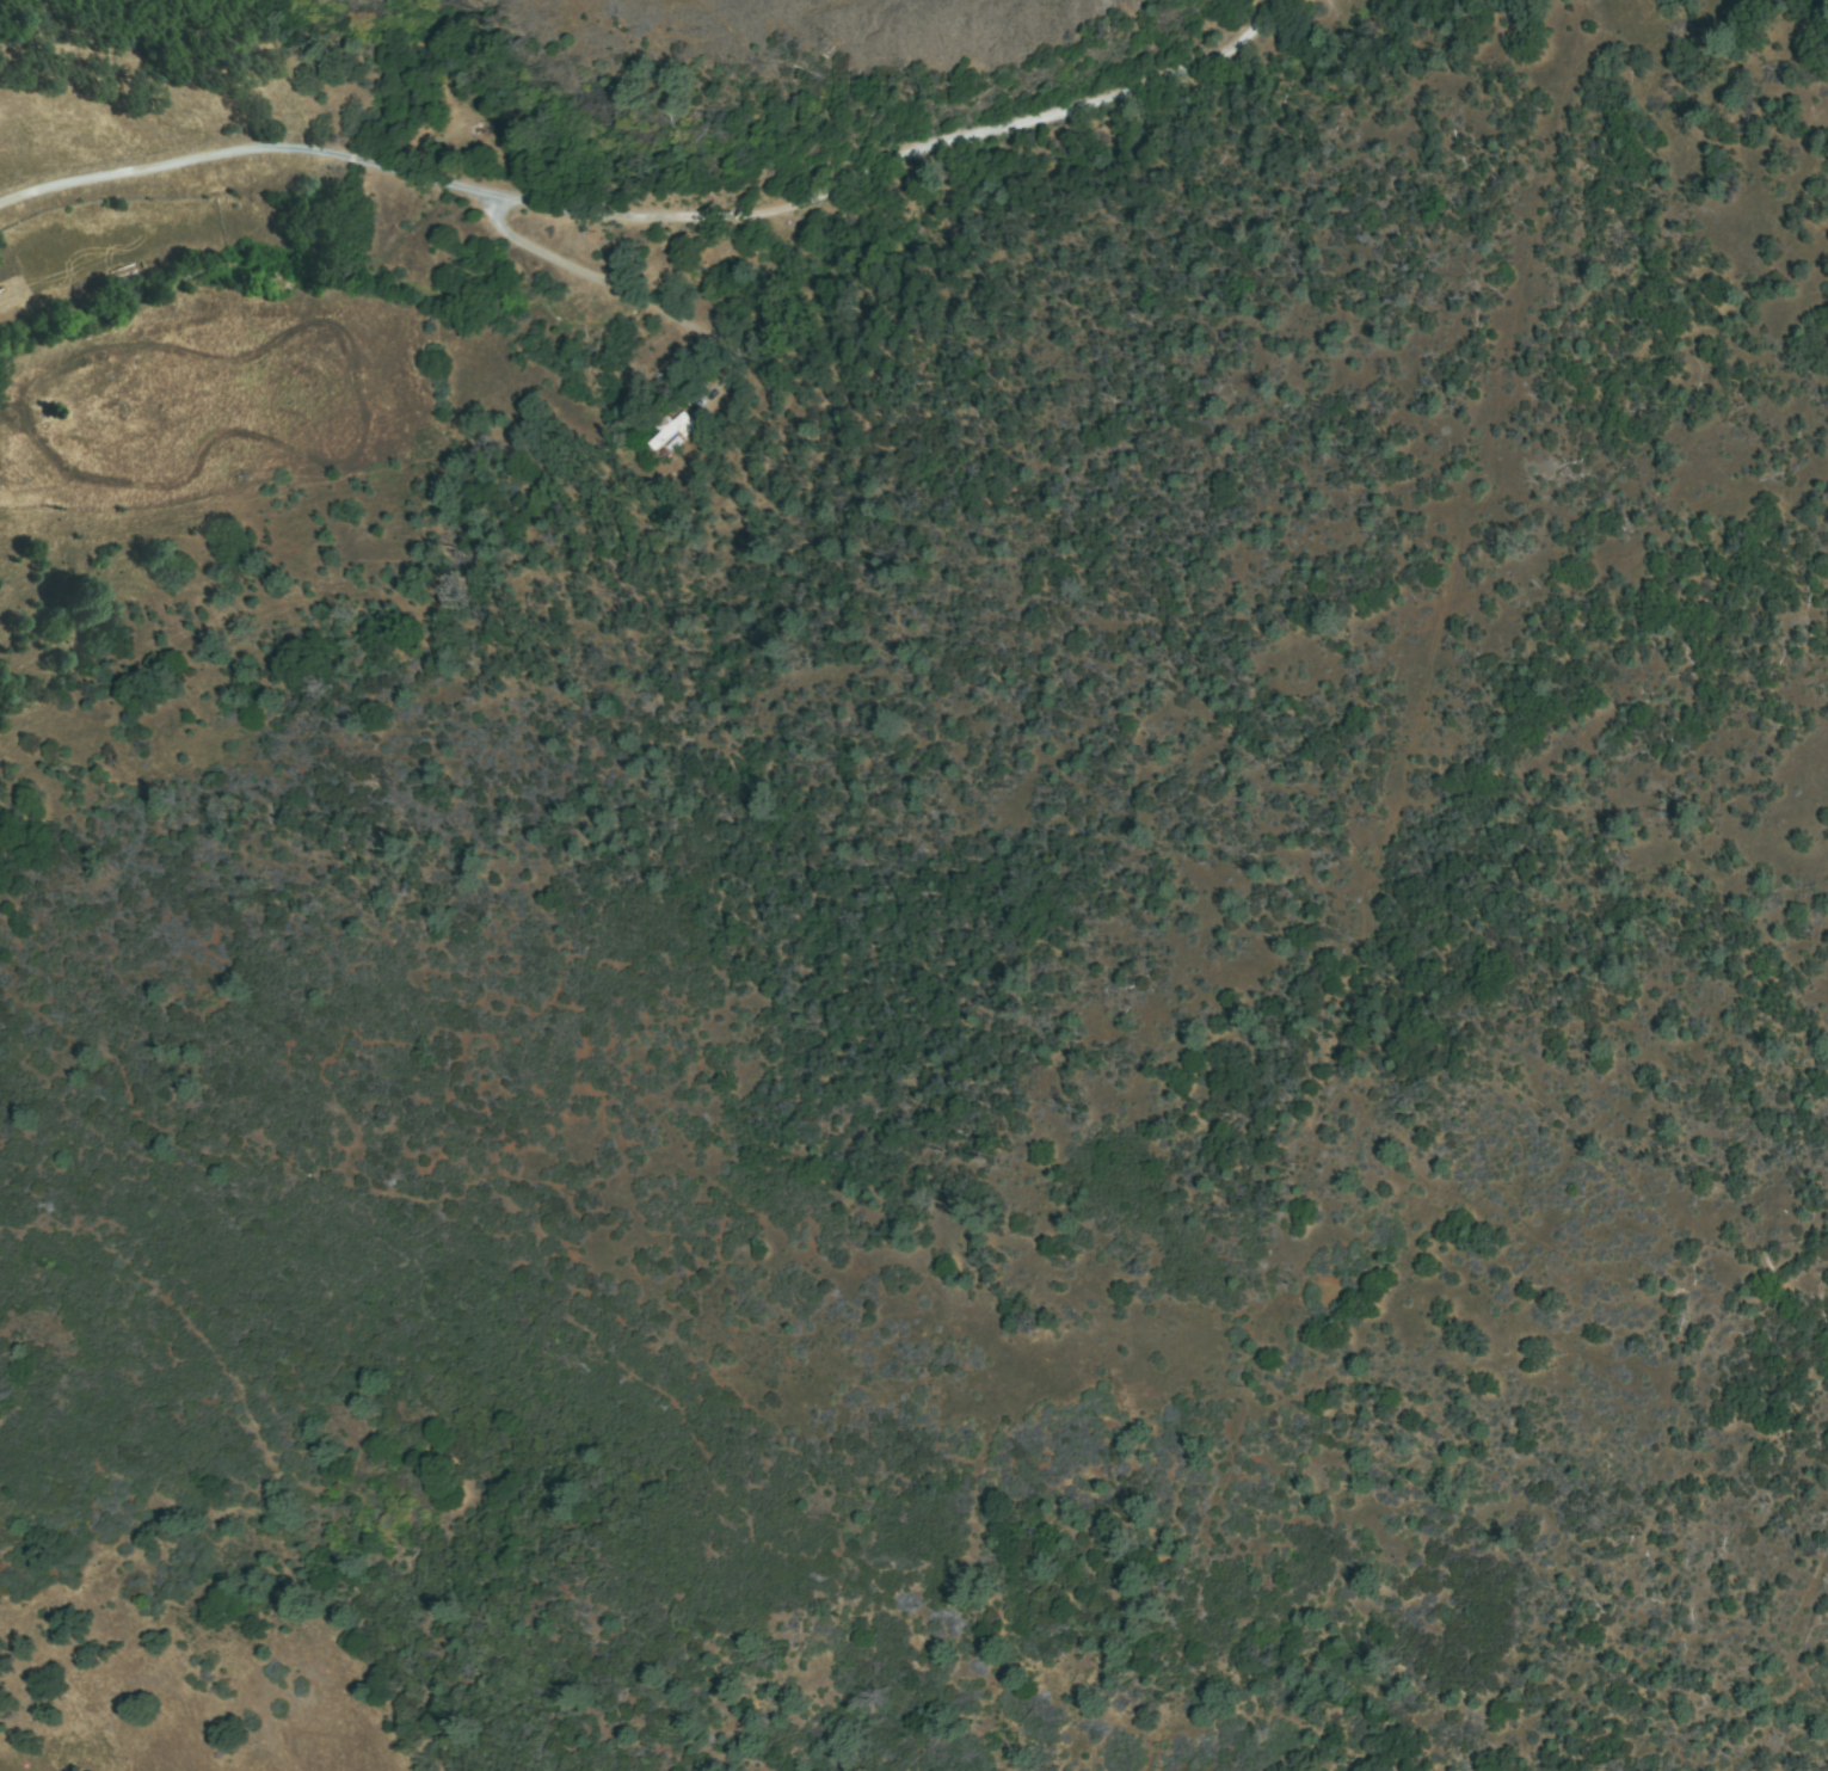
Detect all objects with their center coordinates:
road: (652, 211)
building: (675, 428)

